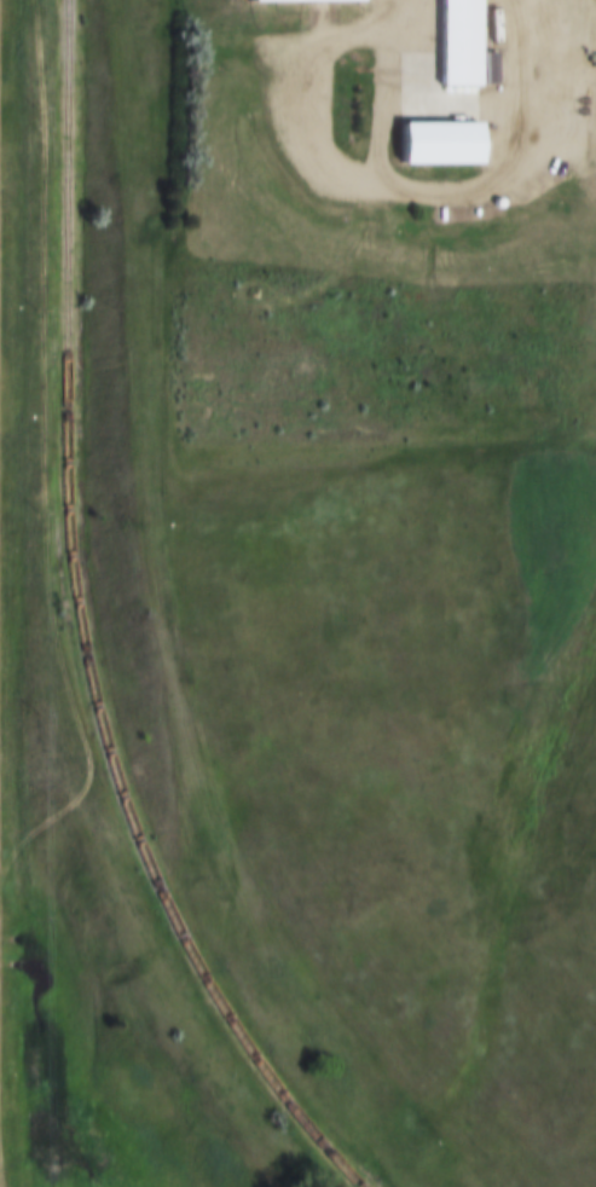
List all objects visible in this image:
building: (299, 2)
road: (519, 35)
building: (463, 44)
building: (445, 145)
railway: (79, 629)

